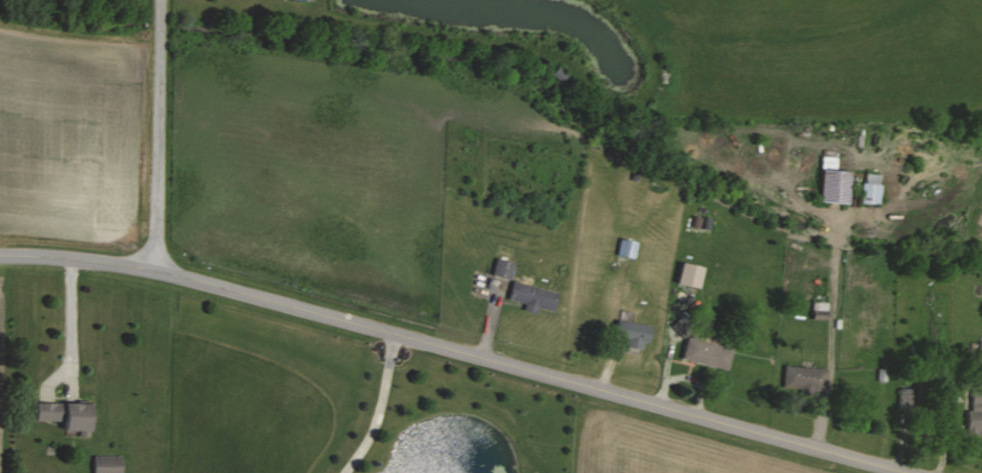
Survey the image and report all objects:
building: (307, 0)
road: (155, 136)
building: (833, 182)
building: (871, 188)
building: (626, 248)
building: (502, 268)
building: (688, 275)
building: (532, 296)
road: (71, 322)
building: (631, 333)
road: (460, 350)
building: (706, 353)
building: (803, 378)
road: (379, 407)
building: (975, 414)
building: (63, 415)
building: (106, 463)

